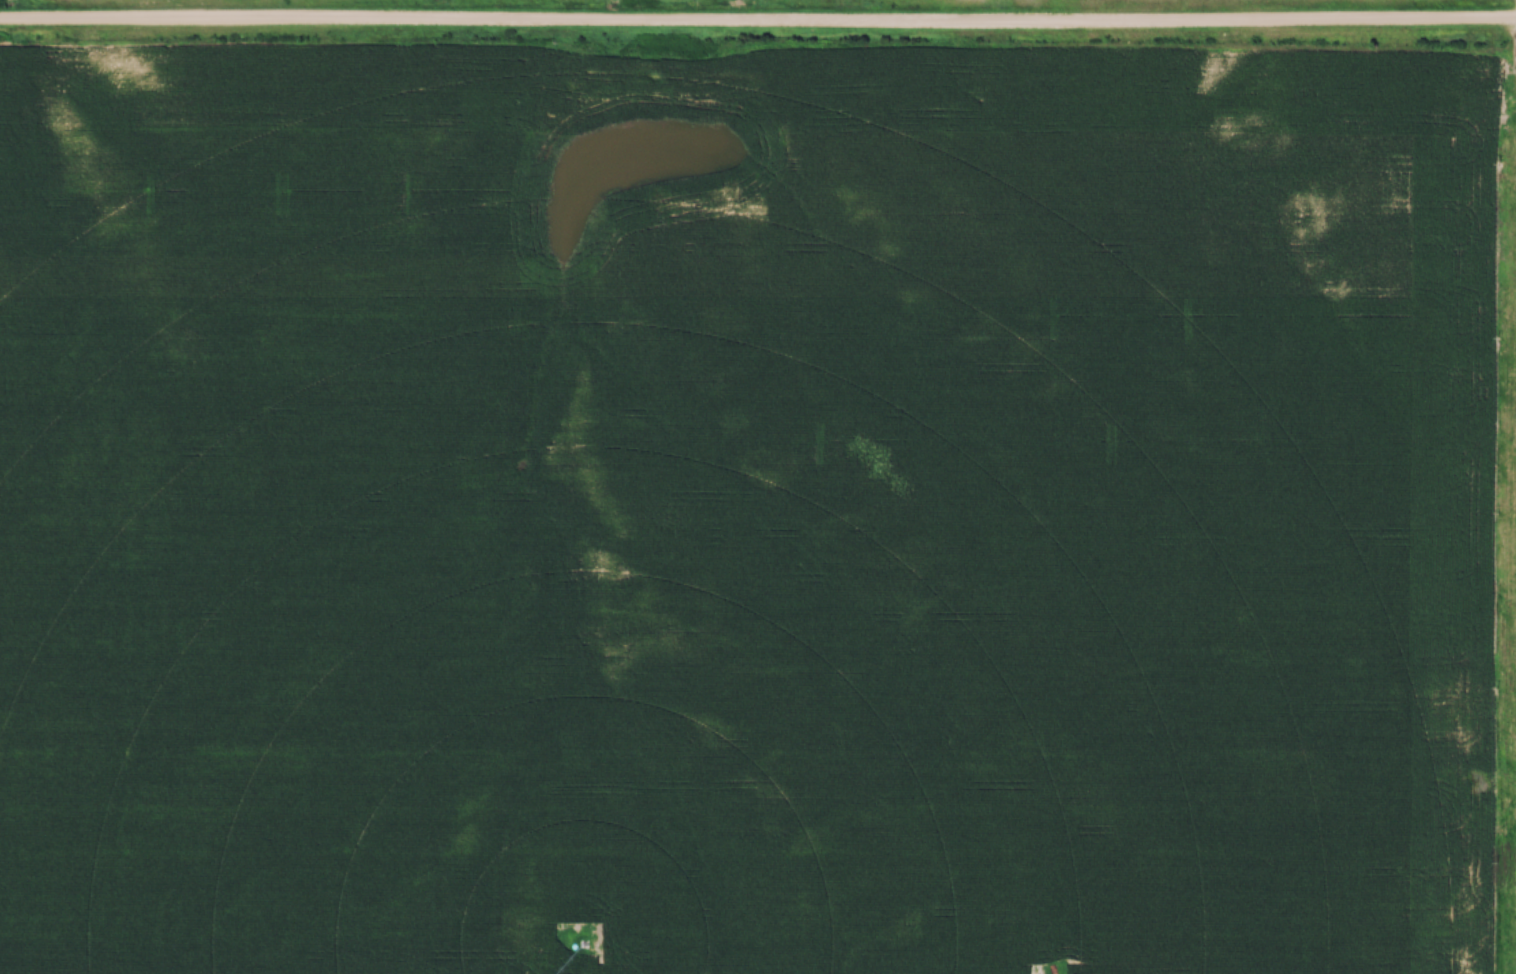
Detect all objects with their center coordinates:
road: (758, 26)
road: (1514, 486)

